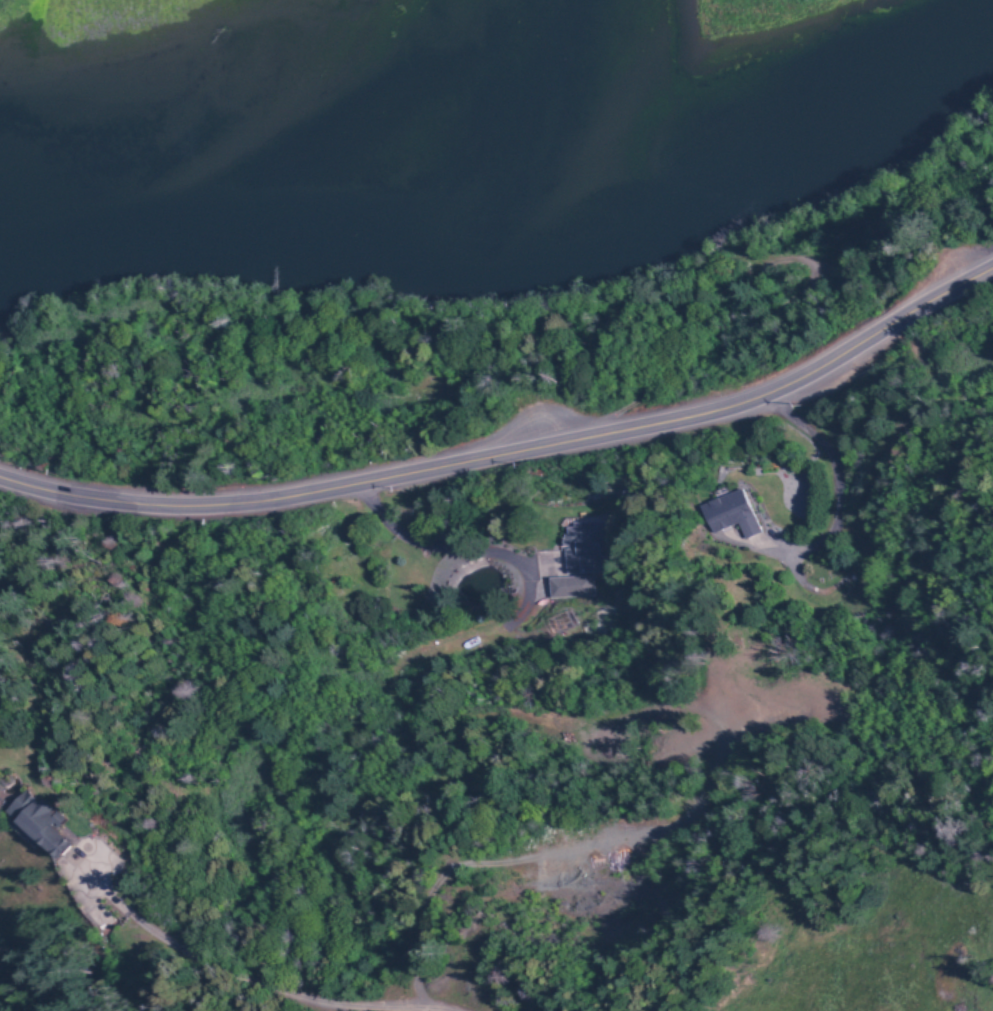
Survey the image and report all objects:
road: (512, 454)
building: (730, 513)
building: (583, 548)
building: (569, 586)
road: (386, 704)
building: (39, 822)

